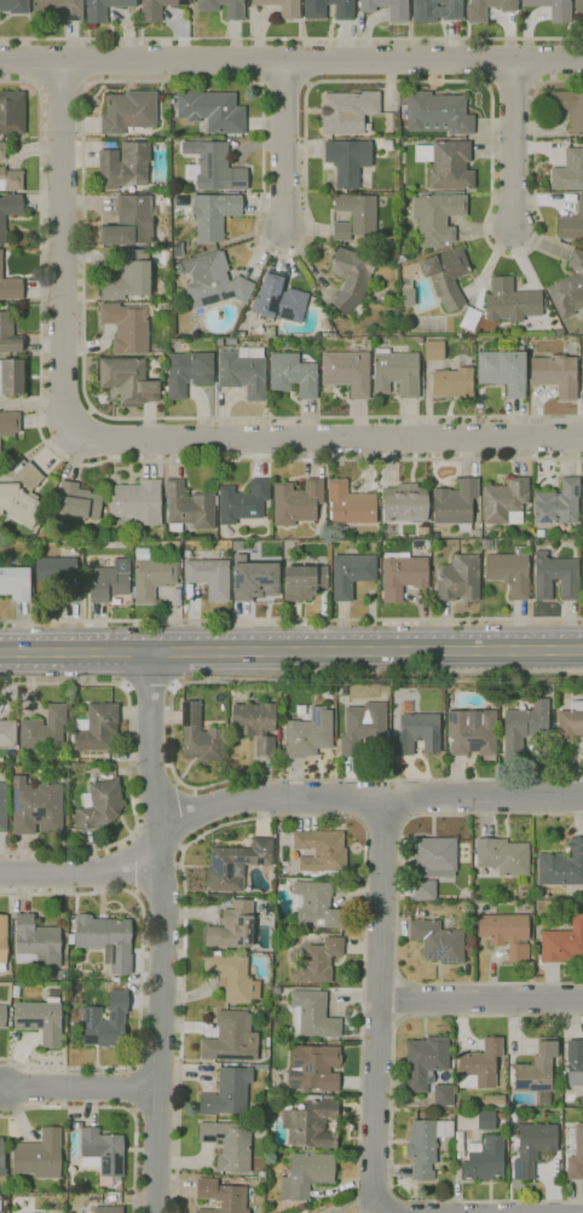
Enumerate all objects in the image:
building: (578, 5)
building: (15, 6)
building: (59, 7)
building: (283, 7)
building: (104, 8)
building: (156, 8)
building: (398, 8)
building: (553, 8)
building: (435, 10)
building: (235, 11)
building: (314, 11)
building: (477, 17)
road: (291, 39)
road: (291, 60)
road: (252, 82)
road: (62, 86)
building: (402, 100)
building: (570, 108)
building: (212, 110)
building: (346, 110)
building: (128, 111)
building: (12, 112)
building: (438, 112)
building: (387, 123)
building: (387, 143)
road: (284, 144)
road: (512, 144)
building: (2, 150)
building: (348, 160)
building: (448, 163)
building: (123, 166)
building: (213, 167)
building: (568, 172)
building: (11, 180)
building: (180, 201)
building: (8, 209)
building: (357, 212)
building: (213, 215)
building: (437, 218)
building: (129, 221)
building: (572, 224)
building: (341, 231)
road: (63, 246)
building: (178, 249)
building: (128, 277)
building: (351, 277)
building: (438, 277)
building: (213, 281)
building: (10, 285)
building: (568, 287)
building: (278, 300)
building: (510, 301)
building: (469, 319)
building: (126, 327)
building: (8, 333)
building: (559, 333)
building: (239, 334)
building: (232, 341)
building: (219, 342)
building: (433, 350)
building: (503, 369)
building: (582, 370)
building: (243, 371)
building: (347, 371)
building: (187, 372)
building: (396, 372)
building: (555, 374)
building: (291, 375)
building: (11, 376)
building: (127, 380)
building: (454, 383)
building: (8, 423)
road: (327, 438)
road: (111, 462)
building: (29, 475)
building: (582, 491)
building: (77, 501)
building: (506, 501)
building: (138, 502)
building: (242, 502)
building: (296, 502)
building: (558, 502)
building: (455, 503)
building: (19, 504)
building: (350, 504)
building: (404, 504)
building: (189, 507)
building: (105, 512)
building: (226, 532)
building: (477, 536)
building: (318, 545)
building: (171, 548)
building: (508, 572)
building: (351, 573)
building: (150, 576)
building: (402, 576)
building: (209, 577)
building: (555, 577)
building: (254, 578)
building: (458, 578)
building: (57, 579)
building: (109, 580)
building: (302, 580)
building: (15, 583)
road: (291, 619)
road: (290, 651)
road: (150, 689)
building: (393, 721)
building: (571, 722)
building: (339, 723)
building: (256, 724)
building: (524, 726)
building: (96, 727)
building: (363, 727)
building: (44, 729)
building: (471, 732)
building: (7, 733)
building: (419, 733)
road: (171, 734)
building: (308, 734)
building: (200, 735)
building: (68, 740)
building: (31, 756)
building: (70, 756)
road: (129, 767)
road: (279, 798)
building: (98, 805)
building: (2, 807)
building: (35, 807)
road: (284, 814)
road: (175, 816)
road: (385, 821)
building: (319, 850)
building: (434, 856)
building: (503, 856)
building: (236, 865)
building: (561, 866)
building: (425, 890)
road: (398, 901)
building: (579, 902)
building: (316, 905)
building: (416, 907)
building: (232, 926)
road: (163, 932)
building: (506, 934)
building: (70, 938)
building: (105, 940)
building: (438, 941)
building: (562, 941)
building: (2, 942)
building: (36, 942)
building: (318, 960)
building: (232, 976)
road: (142, 977)
building: (15, 992)
road: (481, 998)
road: (404, 999)
road: (380, 1005)
building: (2, 1015)
building: (312, 1015)
building: (41, 1017)
building: (105, 1022)
building: (231, 1038)
building: (426, 1061)
building: (575, 1062)
building: (480, 1065)
building: (313, 1068)
building: (537, 1073)
building: (558, 1074)
building: (562, 1074)
road: (80, 1087)
building: (226, 1093)
building: (443, 1094)
building: (493, 1101)
building: (579, 1102)
building: (457, 1104)
road: (117, 1107)
road: (392, 1110)
building: (486, 1120)
building: (501, 1121)
building: (311, 1122)
building: (229, 1144)
building: (425, 1145)
building: (532, 1148)
building: (102, 1151)
building: (575, 1153)
building: (39, 1155)
building: (1, 1157)
building: (484, 1159)
building: (306, 1174)
building: (221, 1196)
building: (108, 1209)
building: (1, 1212)
road: (386, 1212)

